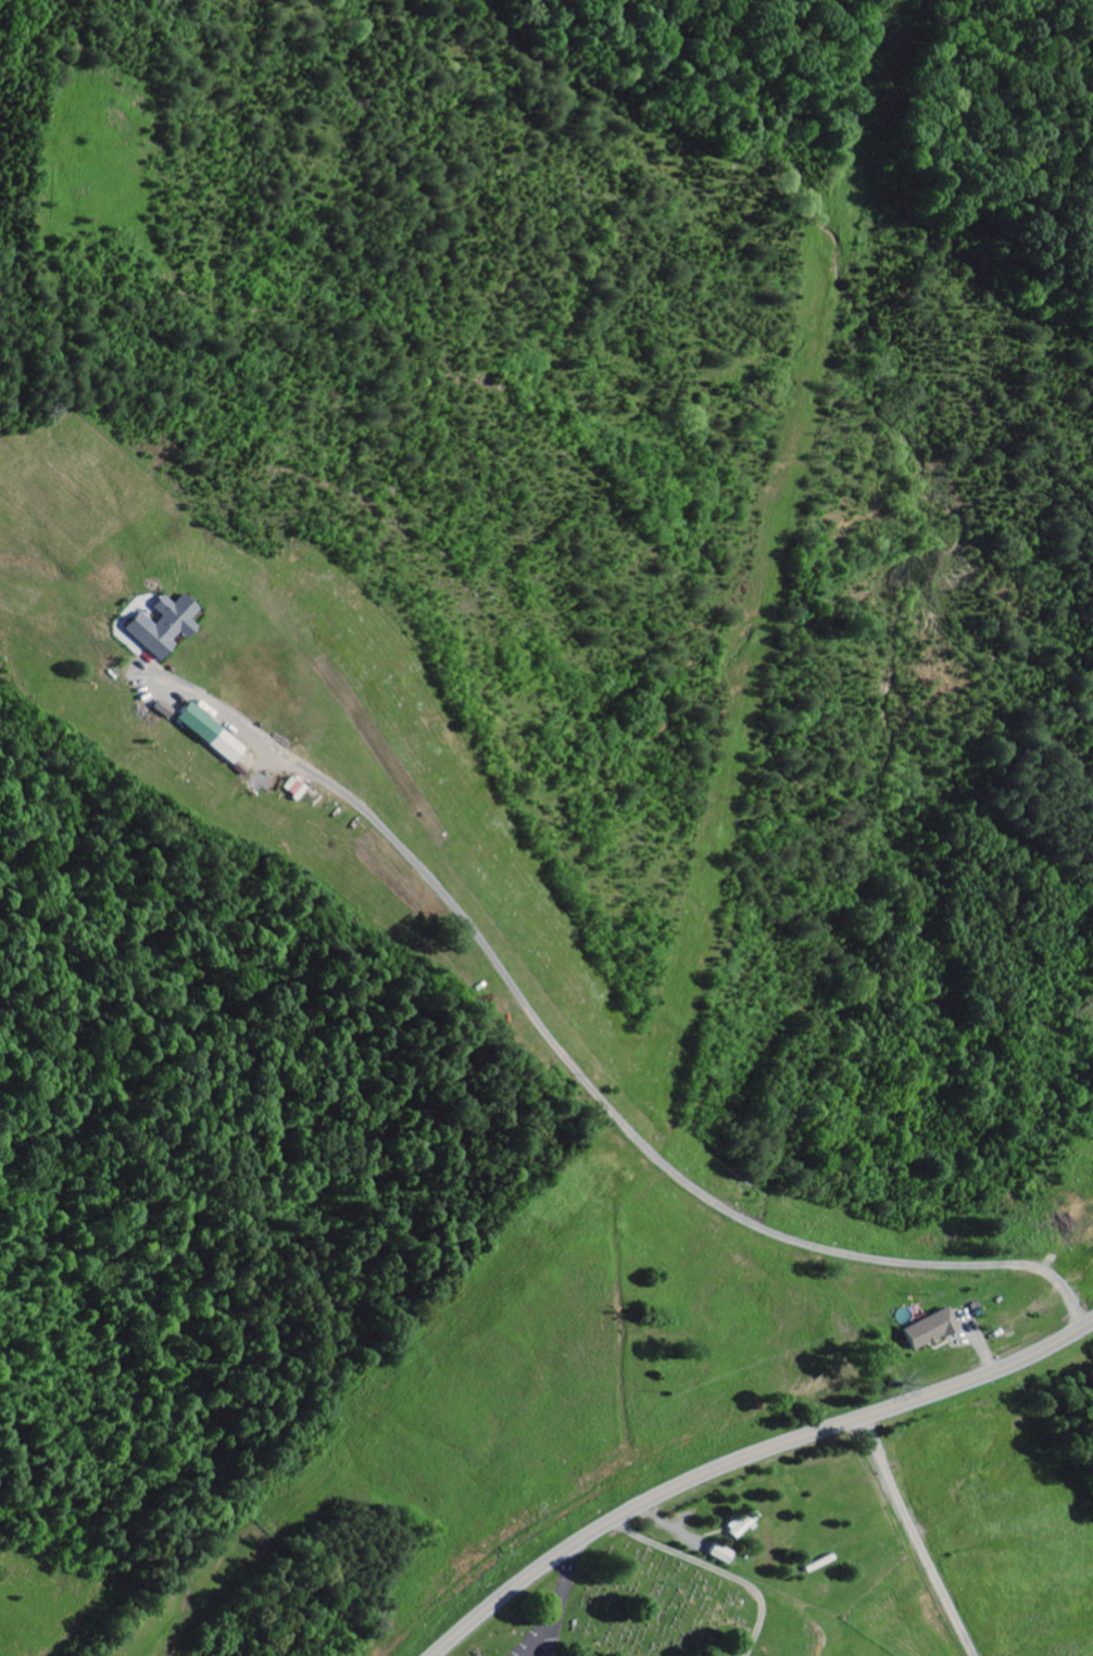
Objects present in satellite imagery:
building: (166, 627)
building: (214, 735)
road: (585, 1082)
building: (933, 1329)
road: (747, 1457)
building: (740, 1526)
building: (723, 1554)
road: (537, 1582)

